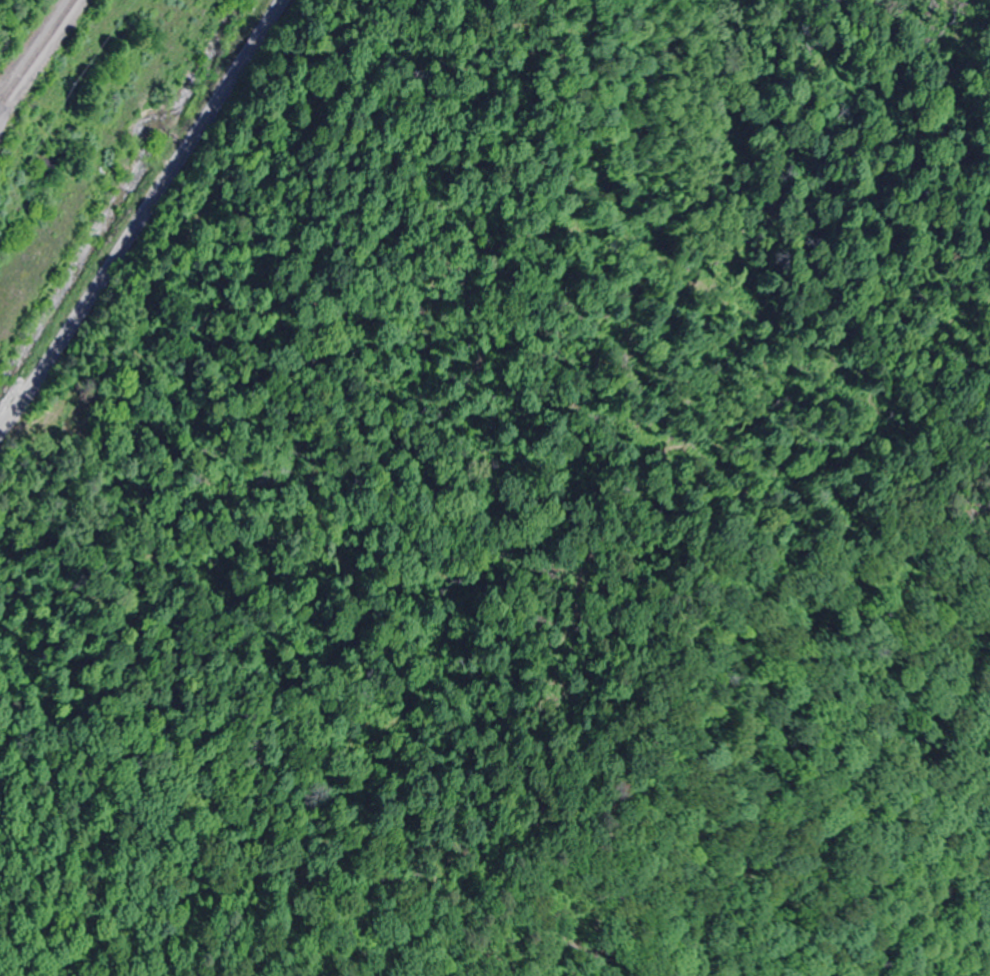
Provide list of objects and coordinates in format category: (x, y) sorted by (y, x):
railway: (33, 48)
road: (145, 218)

